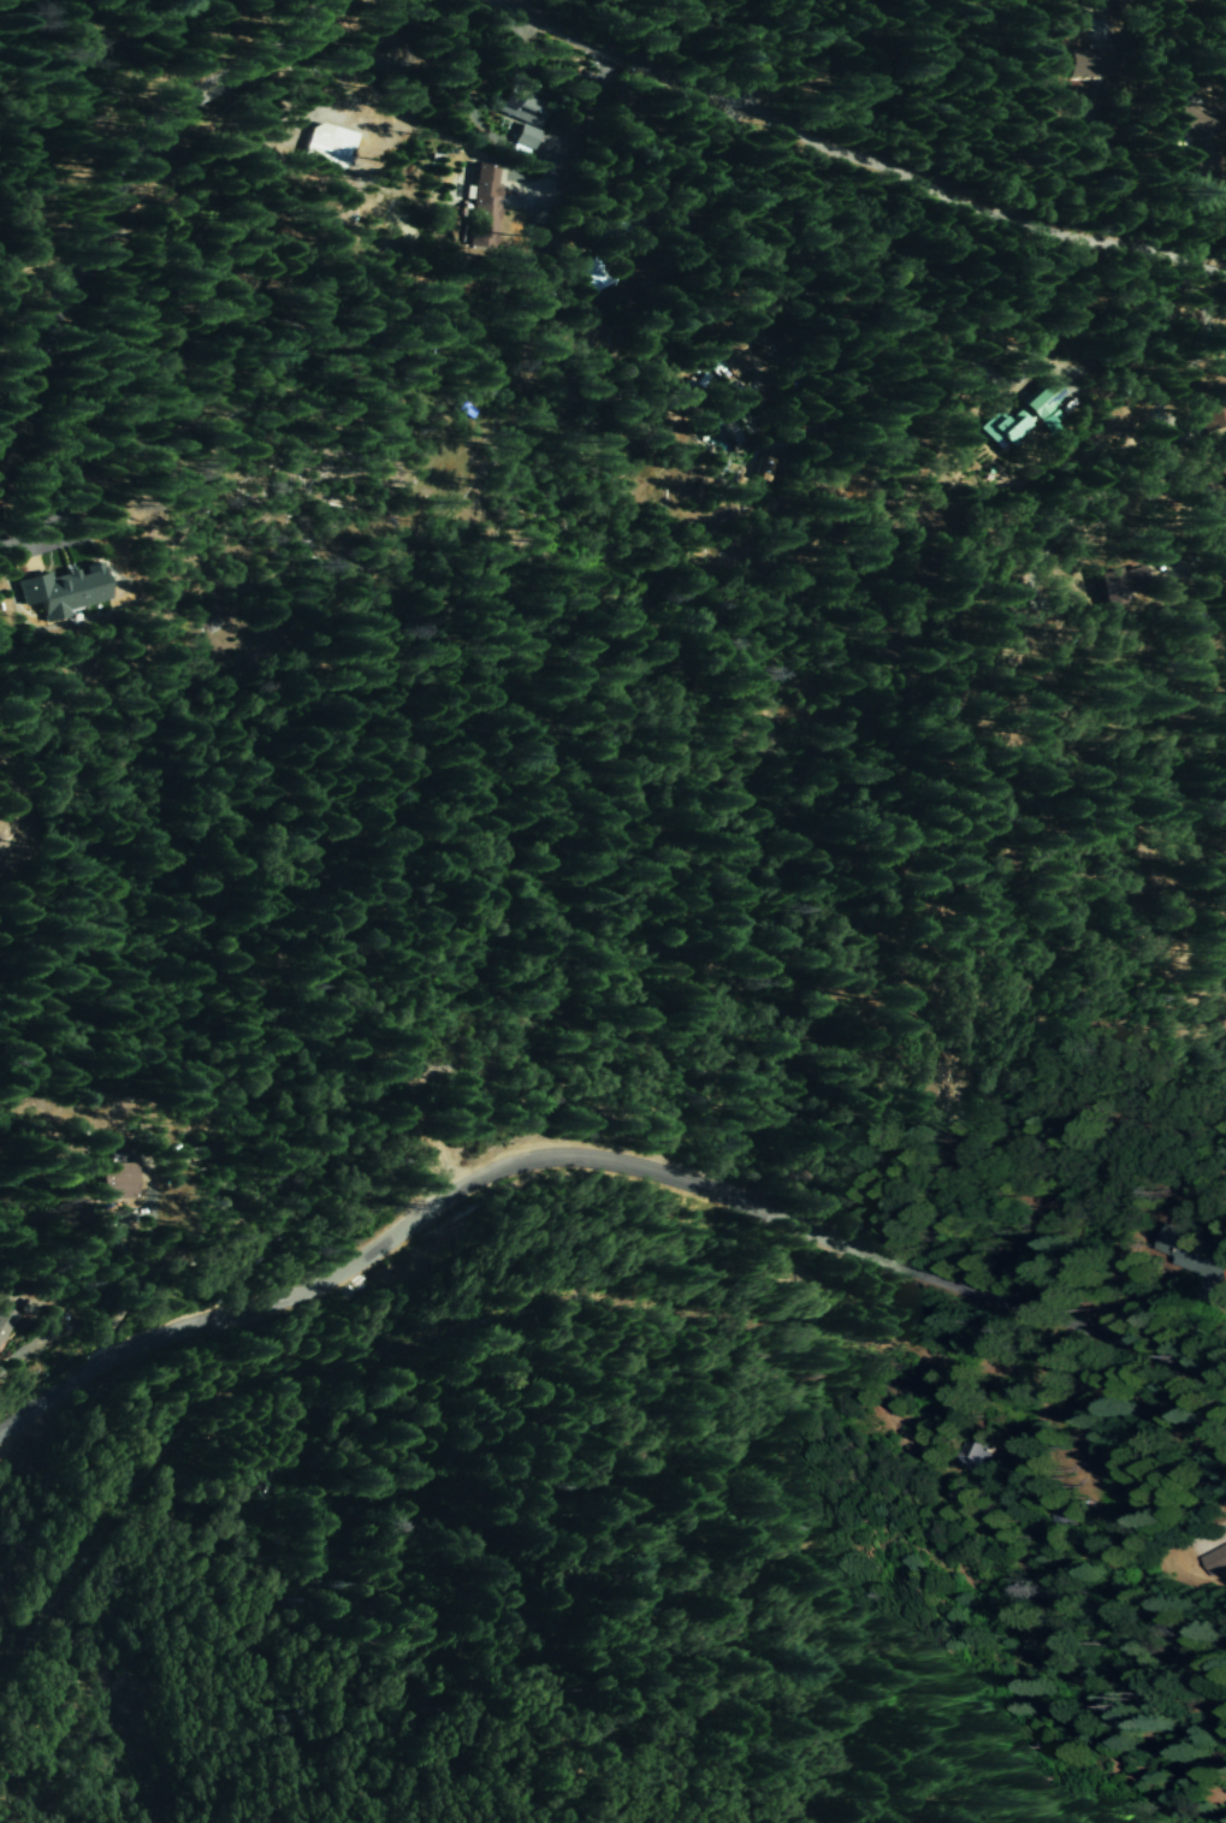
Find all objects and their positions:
building: (1086, 64)
building: (520, 111)
building: (1198, 117)
building: (326, 144)
road: (854, 154)
building: (1202, 168)
road: (119, 193)
building: (482, 208)
building: (590, 274)
road: (244, 314)
building: (729, 357)
building: (1023, 416)
building: (1212, 416)
building: (764, 469)
road: (79, 520)
road: (6, 541)
building: (1127, 586)
building: (61, 592)
building: (936, 1093)
building: (195, 1154)
road: (596, 1155)
building: (112, 1178)
building: (1186, 1250)
building: (5, 1320)
road: (1036, 1398)
building: (978, 1455)
building: (1058, 1519)
building: (1214, 1561)

